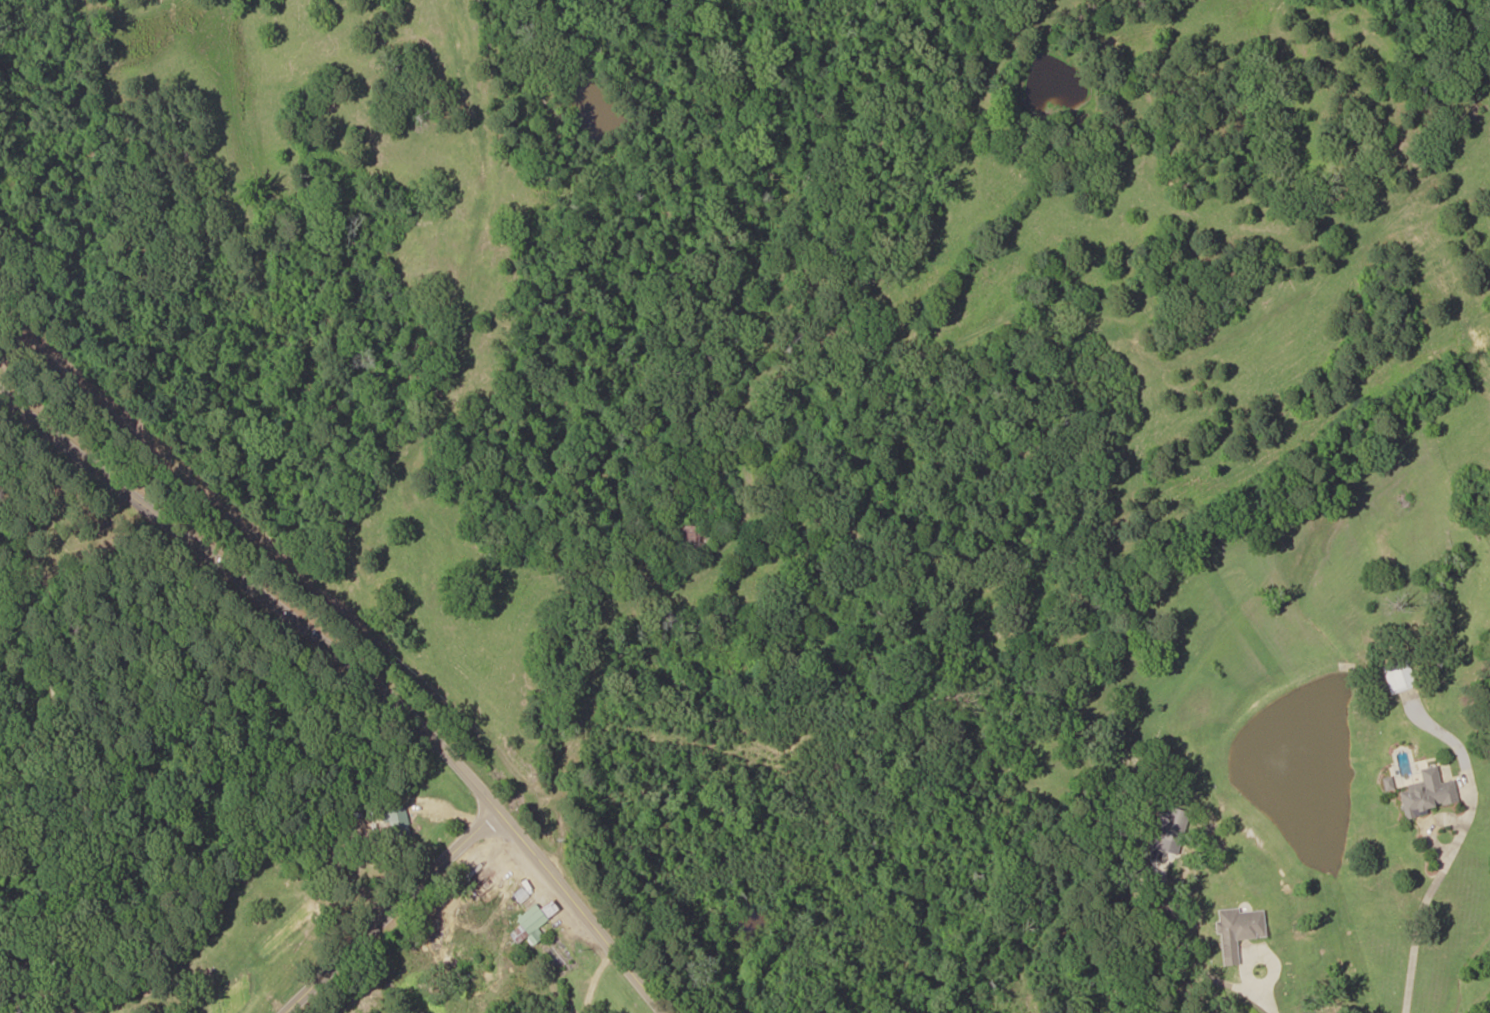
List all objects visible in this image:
building: (692, 538)
road: (367, 661)
building: (1396, 676)
building: (1425, 793)
building: (395, 822)
building: (1171, 830)
road: (383, 899)
building: (528, 922)
building: (1235, 930)
road: (1478, 1003)

